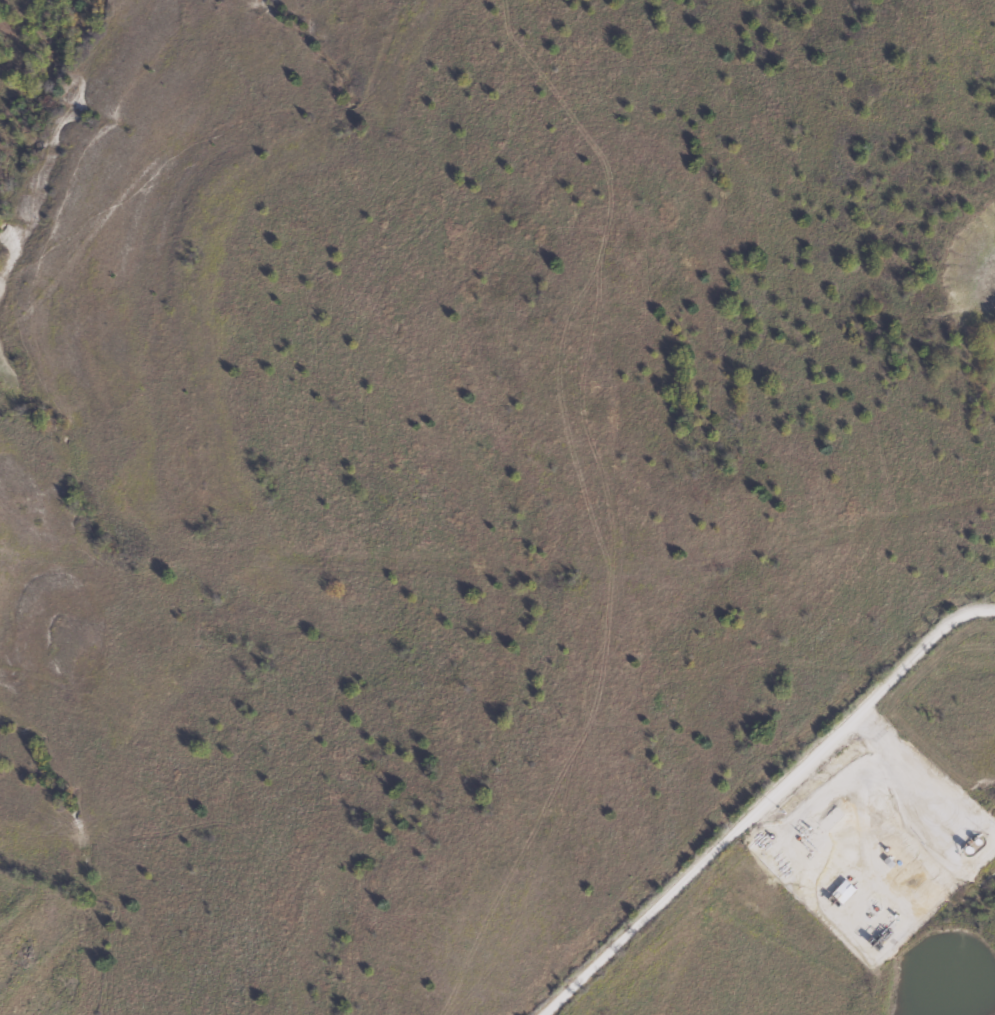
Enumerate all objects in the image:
road: (752, 790)
building: (842, 893)

